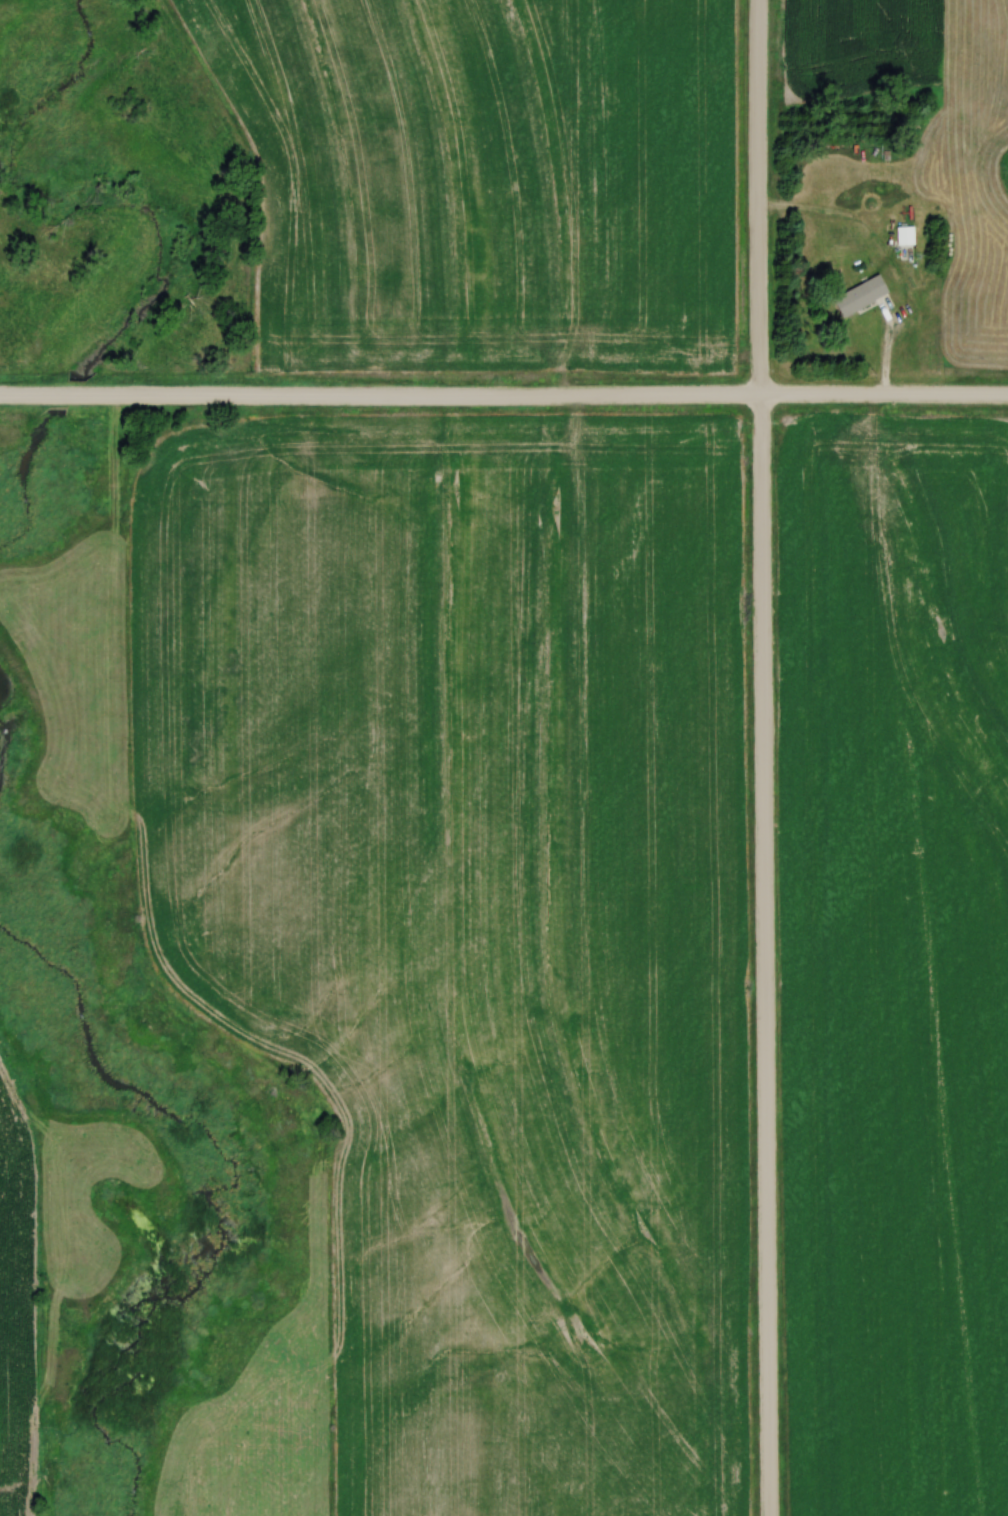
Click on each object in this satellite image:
building: (908, 234)
road: (890, 259)
building: (865, 294)
road: (504, 391)
road: (760, 758)

